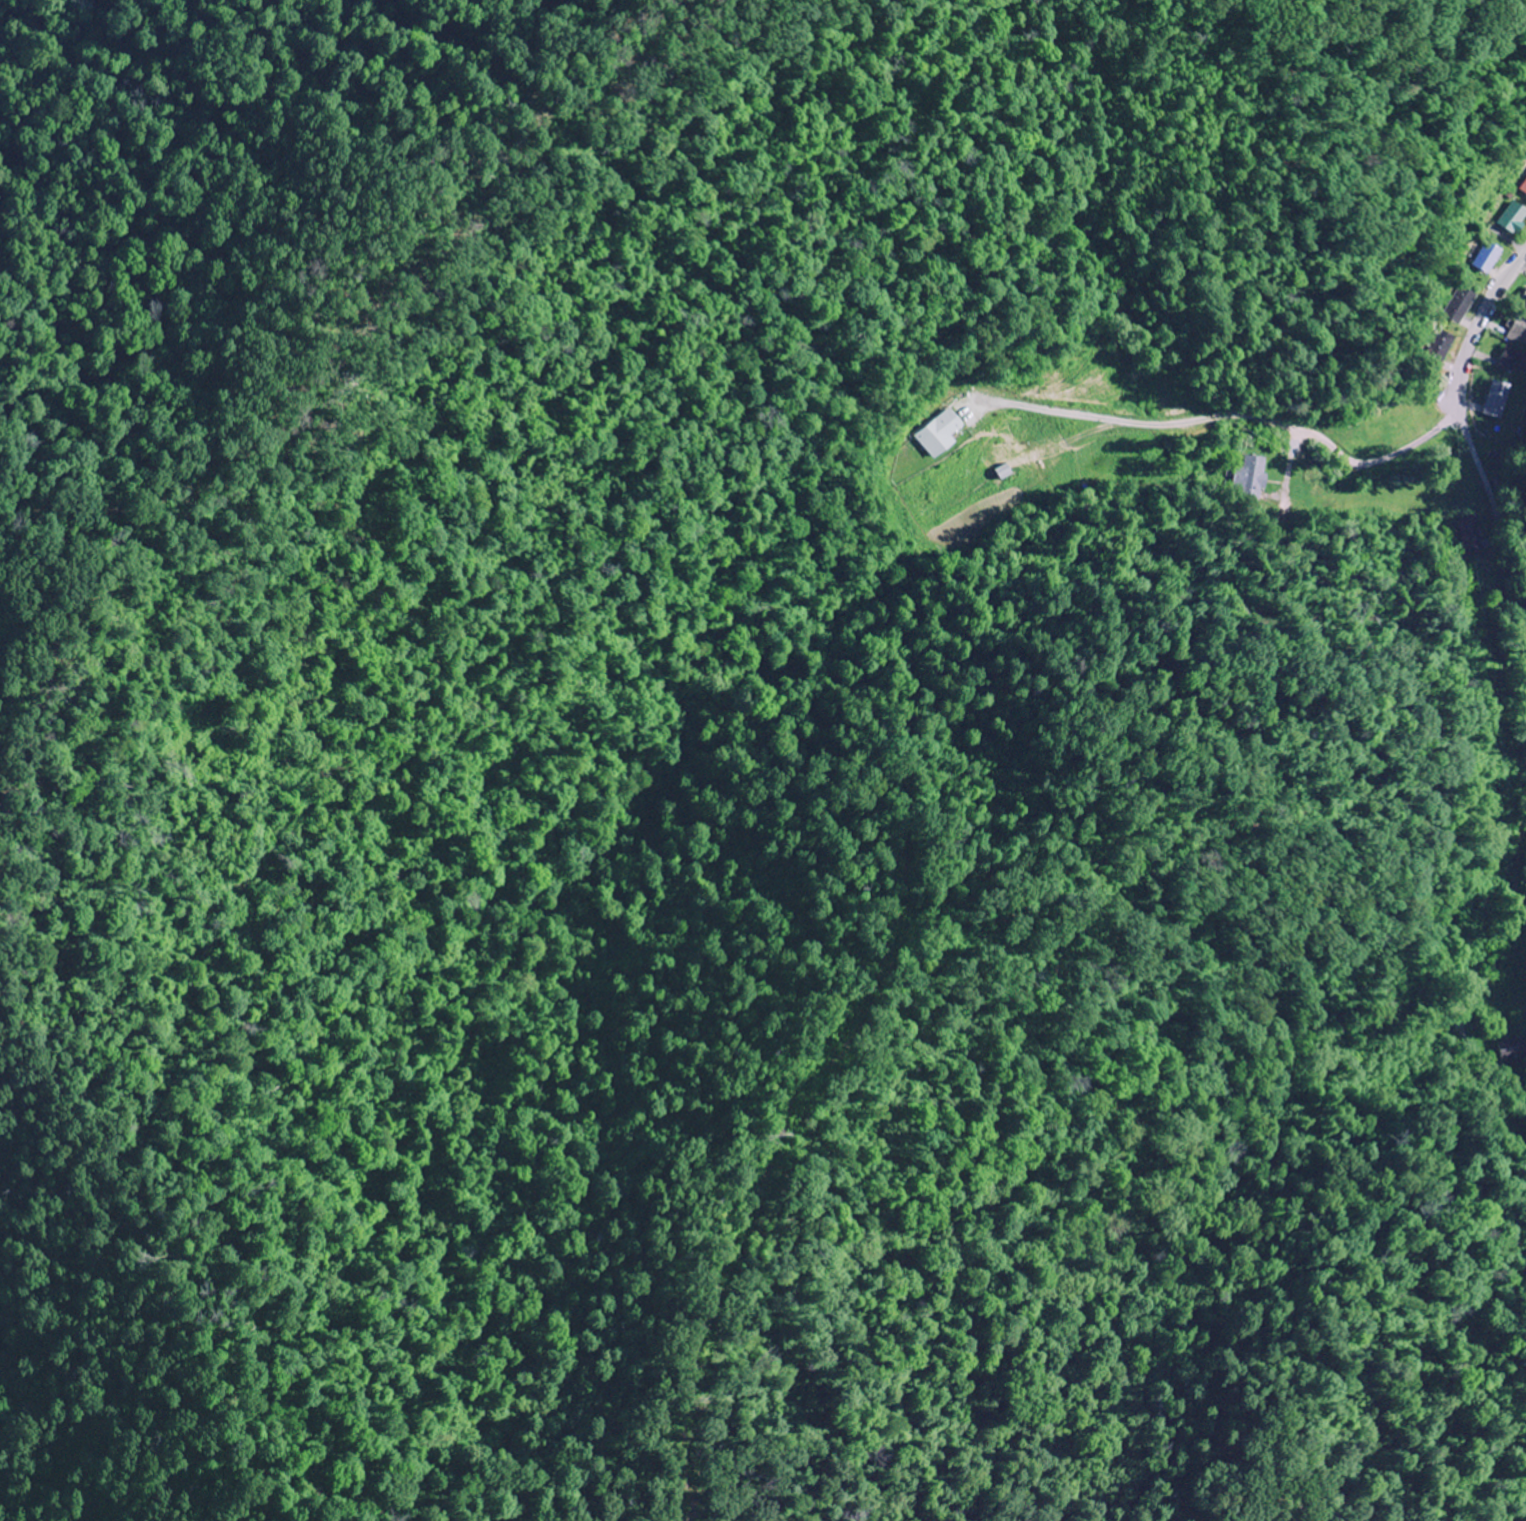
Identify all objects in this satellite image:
building: (1523, 190)
building: (1519, 331)
building: (1514, 359)
building: (1496, 400)
building: (940, 434)
road: (1500, 487)
road: (1494, 557)
road: (1413, 726)
building: (1511, 1049)

